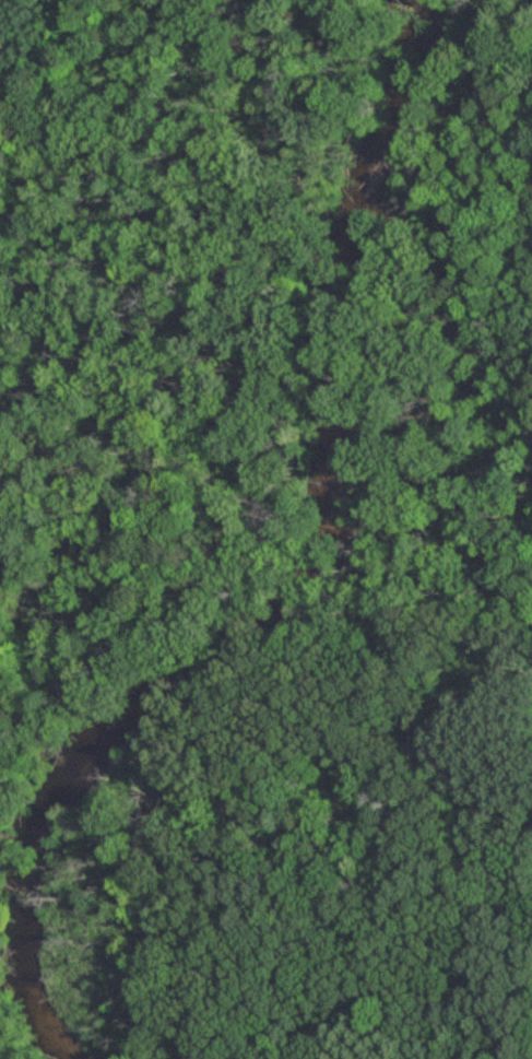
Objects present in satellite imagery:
river: (291, 576)

